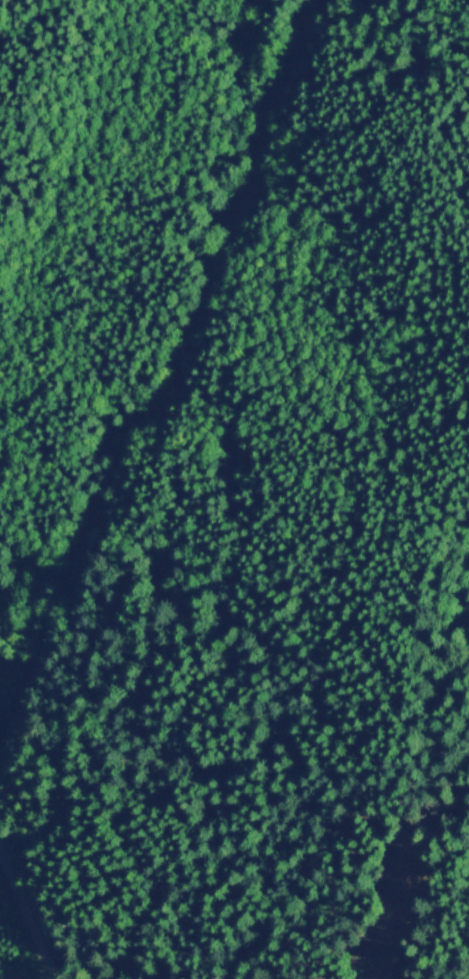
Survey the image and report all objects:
road: (157, 389)
road: (26, 919)

